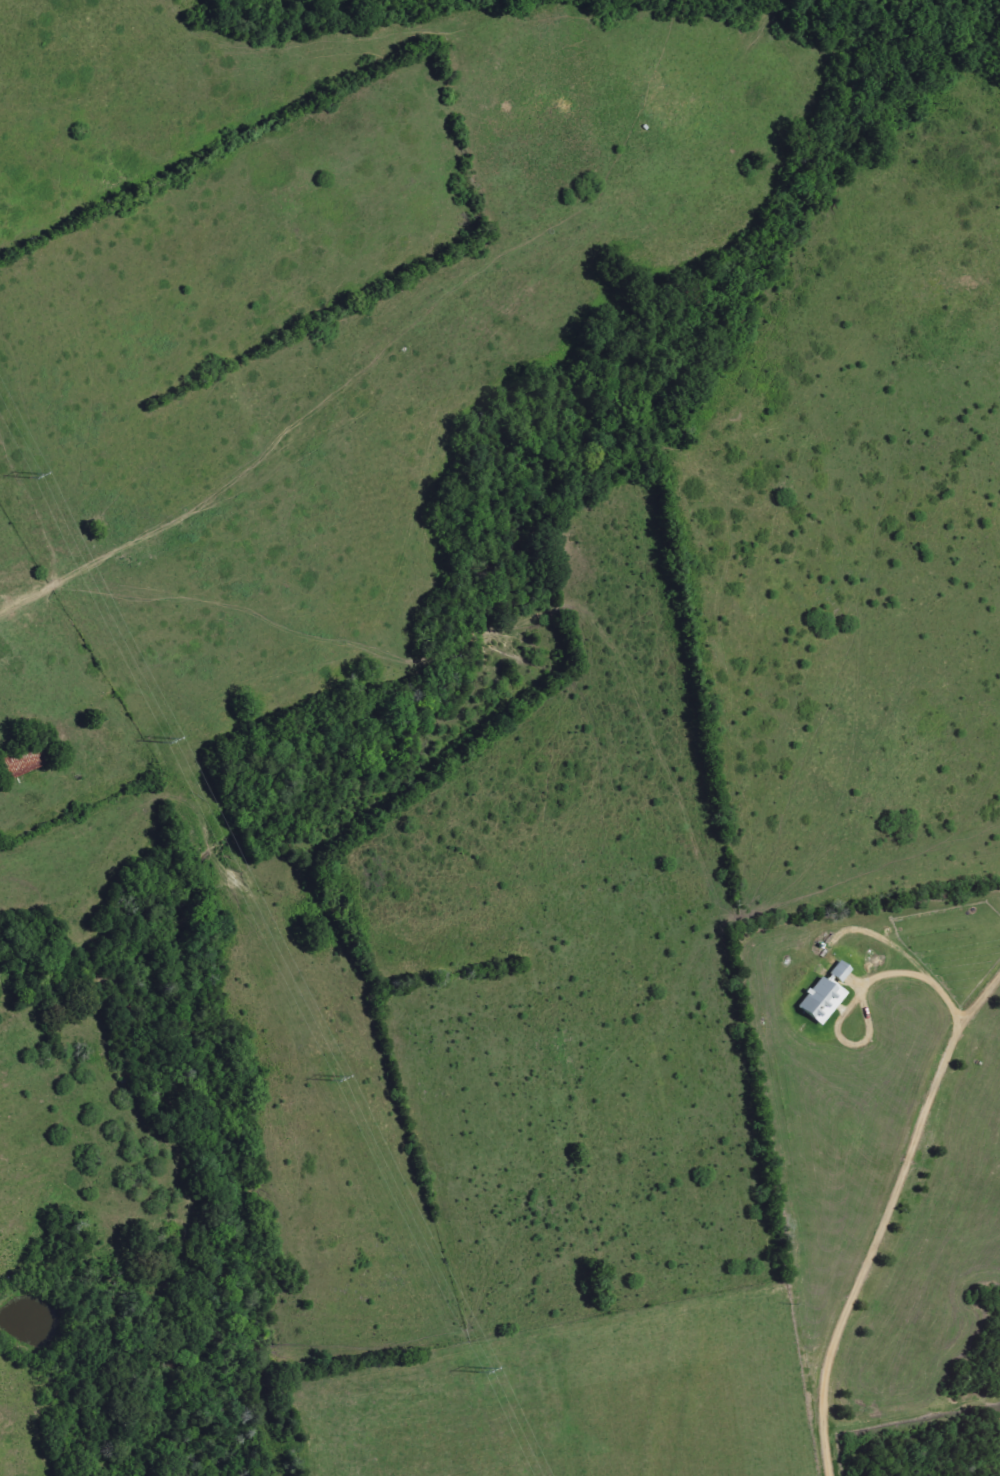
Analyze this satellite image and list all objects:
power tower: (31, 475)
power tower: (163, 739)
building: (828, 995)
power tower: (334, 1078)
road: (885, 1217)
park: (57, 1224)
power tower: (480, 1369)

